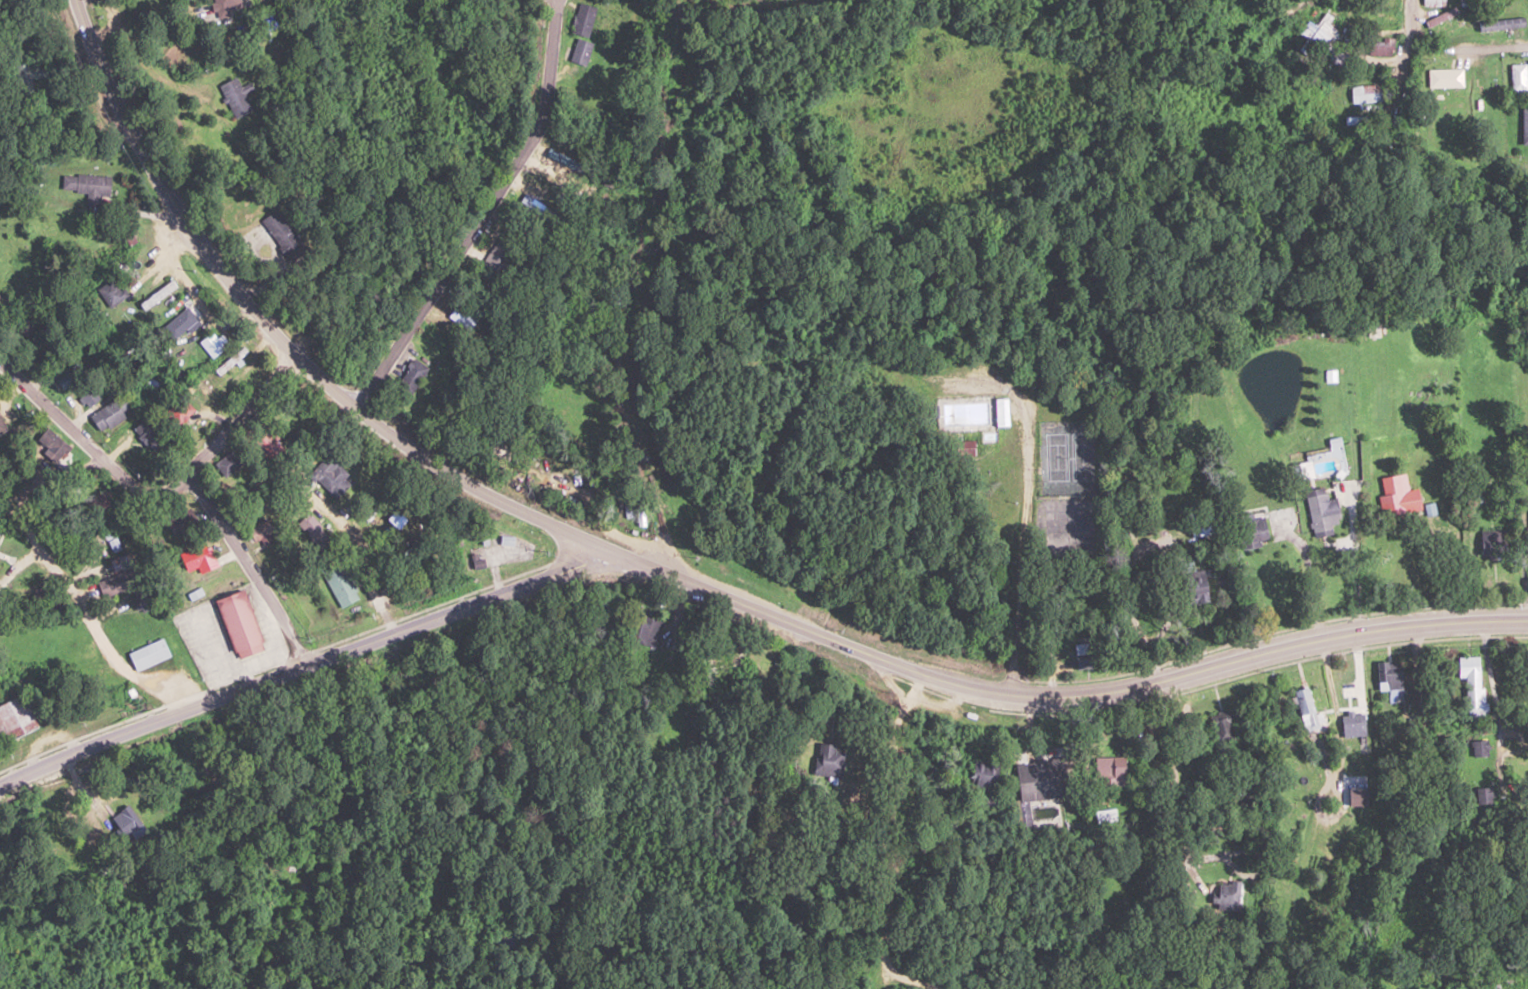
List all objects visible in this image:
building: (1462, 2)
building: (1432, 3)
building: (227, 6)
building: (635, 12)
building: (1440, 17)
building: (582, 19)
road: (107, 21)
building: (1500, 23)
building: (1313, 36)
road: (1408, 40)
building: (580, 51)
road: (1473, 58)
building: (876, 62)
building: (1516, 77)
building: (1444, 78)
road: (162, 80)
building: (1367, 93)
building: (233, 96)
building: (1523, 126)
building: (550, 157)
road: (1488, 168)
building: (87, 186)
road: (484, 213)
road: (672, 221)
building: (281, 235)
building: (501, 253)
building: (109, 292)
building: (179, 322)
road: (276, 333)
building: (232, 361)
building: (411, 374)
building: (62, 378)
building: (860, 381)
road: (982, 381)
building: (222, 388)
building: (87, 395)
building: (997, 411)
building: (175, 412)
building: (109, 413)
building: (2, 426)
building: (147, 431)
road: (587, 437)
building: (53, 444)
building: (962, 448)
building: (558, 465)
building: (331, 476)
road: (550, 478)
road: (148, 488)
building: (1393, 498)
building: (98, 503)
building: (1320, 512)
building: (1527, 529)
building: (260, 532)
building: (1250, 533)
building: (1490, 543)
building: (113, 545)
building: (197, 559)
road: (244, 571)
road: (63, 572)
building: (116, 574)
building: (340, 582)
building: (1191, 592)
road: (769, 612)
building: (237, 623)
building: (646, 631)
building: (147, 653)
road: (1231, 660)
road: (300, 667)
building: (727, 671)
building: (1388, 675)
building: (1473, 687)
building: (1302, 708)
building: (15, 719)
building: (1352, 724)
building: (1219, 728)
building: (1479, 747)
building: (825, 760)
building: (1110, 770)
building: (986, 782)
road: (1505, 784)
building: (1032, 785)
building: (1482, 795)
building: (129, 829)
road: (910, 846)
building: (1224, 894)

